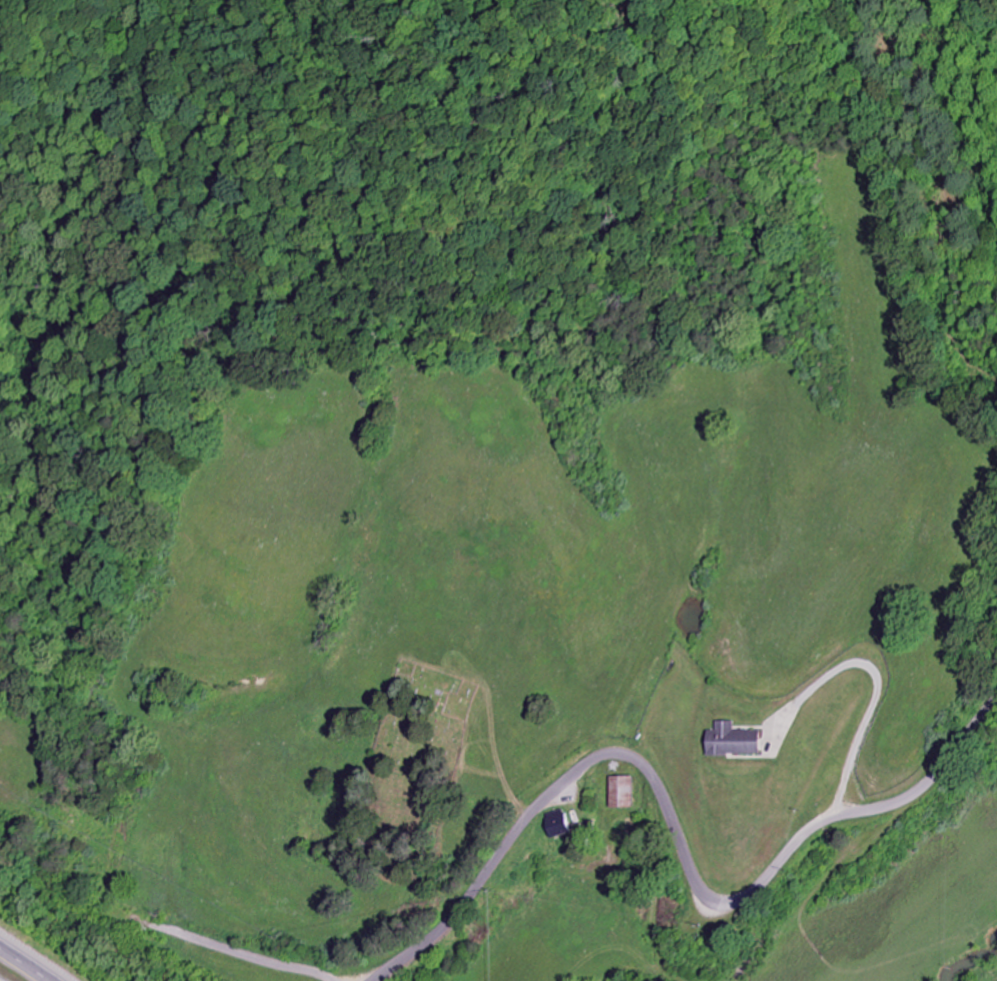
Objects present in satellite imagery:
building: (738, 741)
park: (411, 765)
building: (623, 792)
building: (562, 824)
road: (678, 833)
road: (29, 961)

